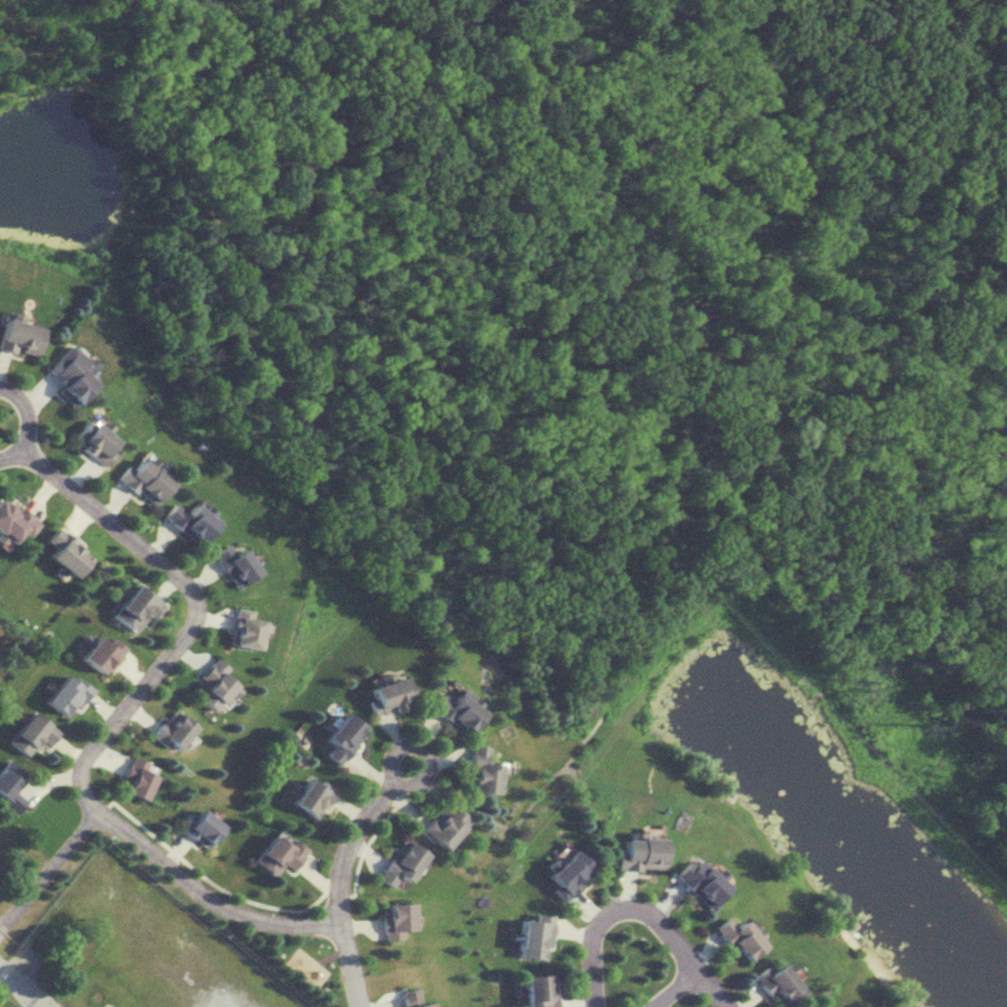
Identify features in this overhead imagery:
park: (716, 306)
building: (16, 336)
building: (67, 376)
road: (20, 421)
building: (90, 440)
building: (140, 479)
building: (12, 522)
building: (186, 522)
building: (63, 553)
building: (230, 565)
building: (132, 609)
building: (100, 655)
building: (212, 685)
building: (64, 695)
building: (386, 696)
building: (453, 710)
road: (110, 718)
building: (170, 731)
building: (30, 734)
building: (339, 737)
road: (385, 770)
building: (476, 771)
building: (134, 779)
building: (9, 785)
building: (310, 797)
building: (441, 825)
building: (199, 826)
building: (277, 853)
building: (635, 853)
building: (398, 863)
building: (0, 867)
road: (47, 868)
building: (565, 872)
building: (696, 882)
road: (335, 885)
road: (612, 907)
building: (394, 920)
building: (530, 936)
building: (733, 937)
road: (16, 980)
building: (775, 984)
road: (668, 986)
road: (709, 986)
building: (536, 990)
building: (407, 998)
road: (35, 1001)

